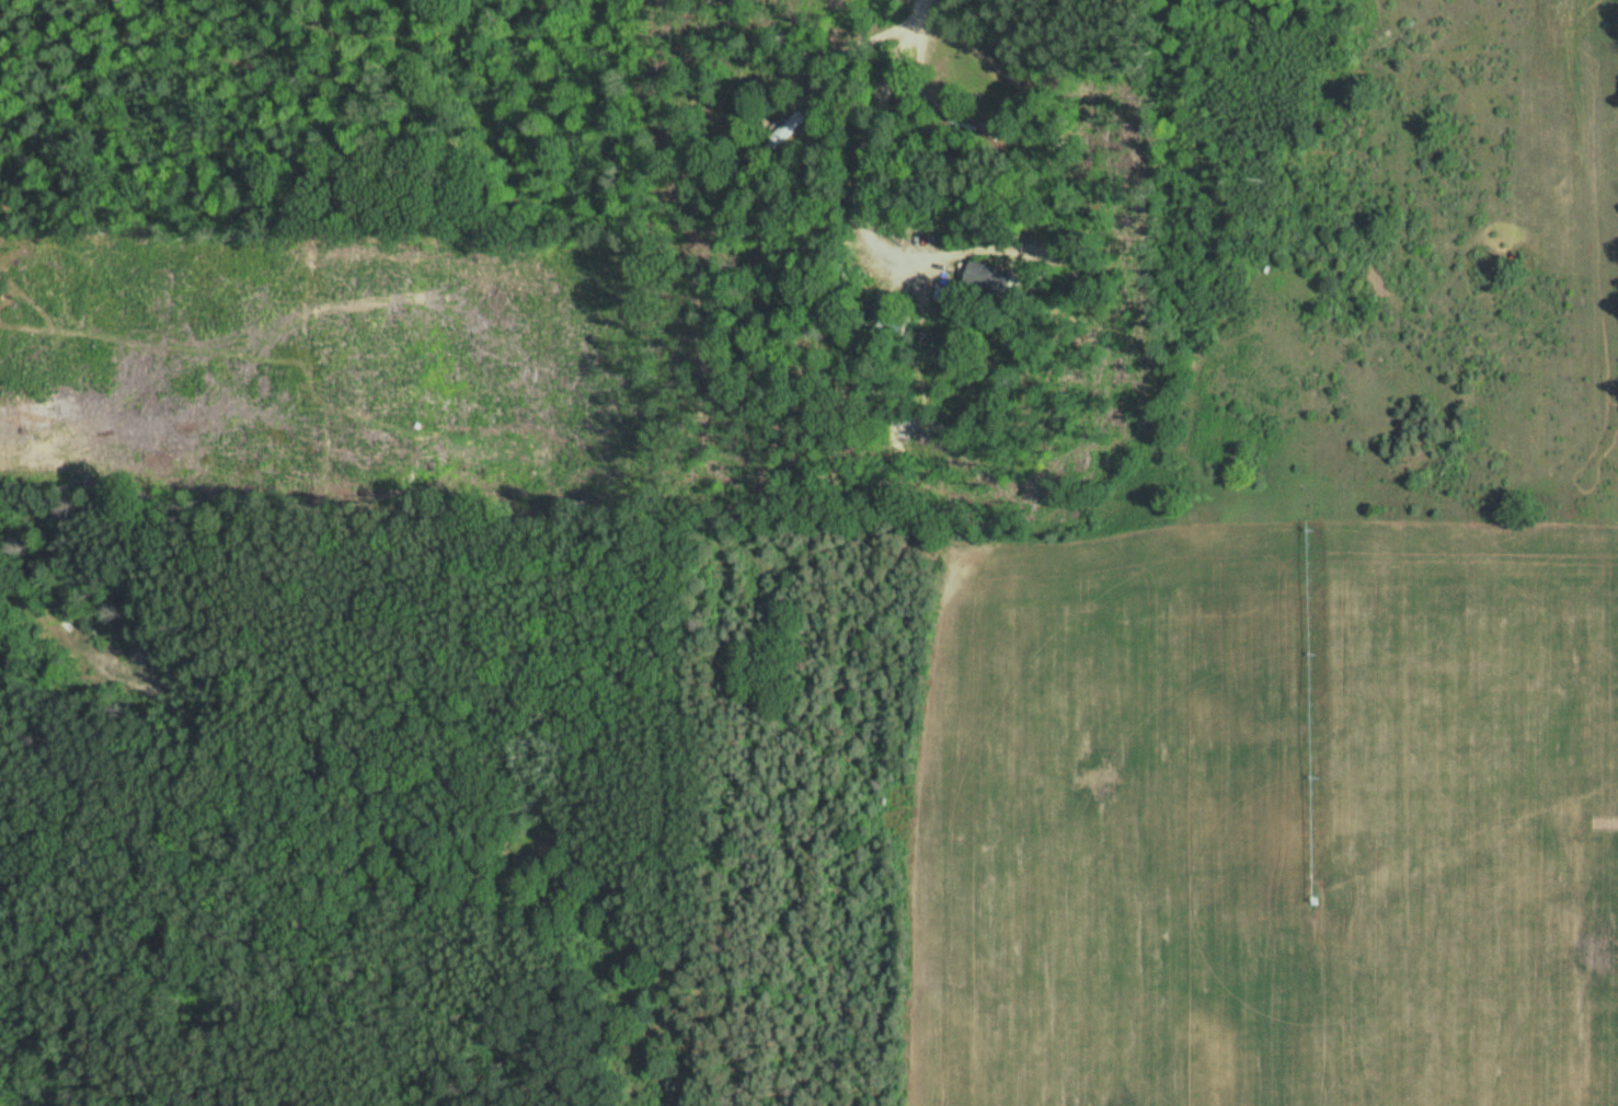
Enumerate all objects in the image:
building: (785, 125)

